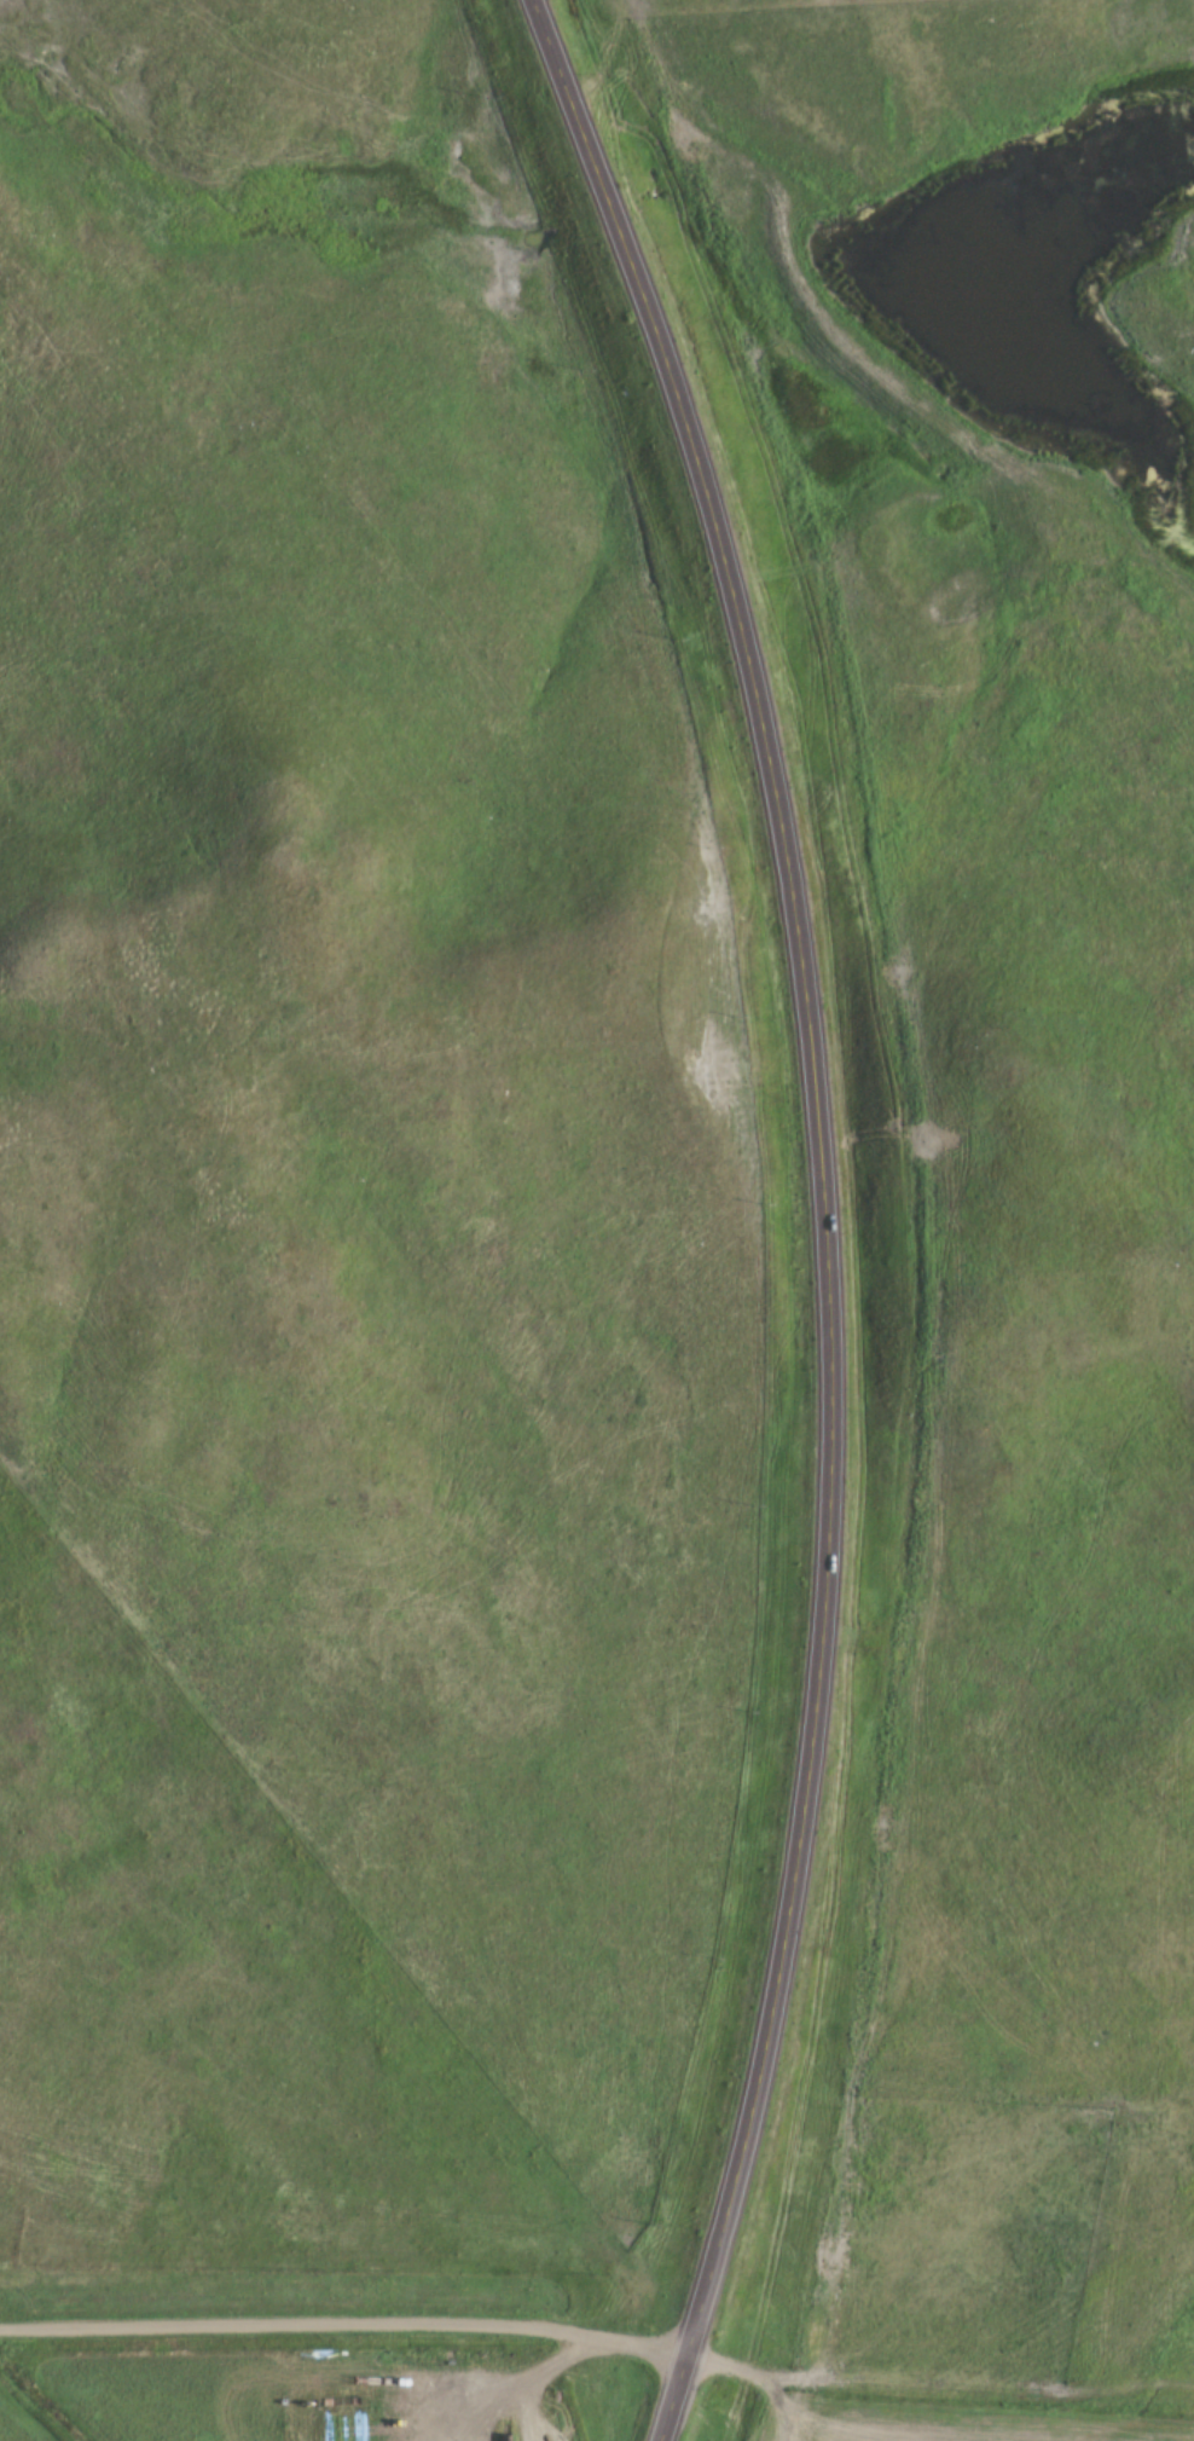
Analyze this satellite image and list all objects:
road: (828, 1209)
road: (346, 2325)

